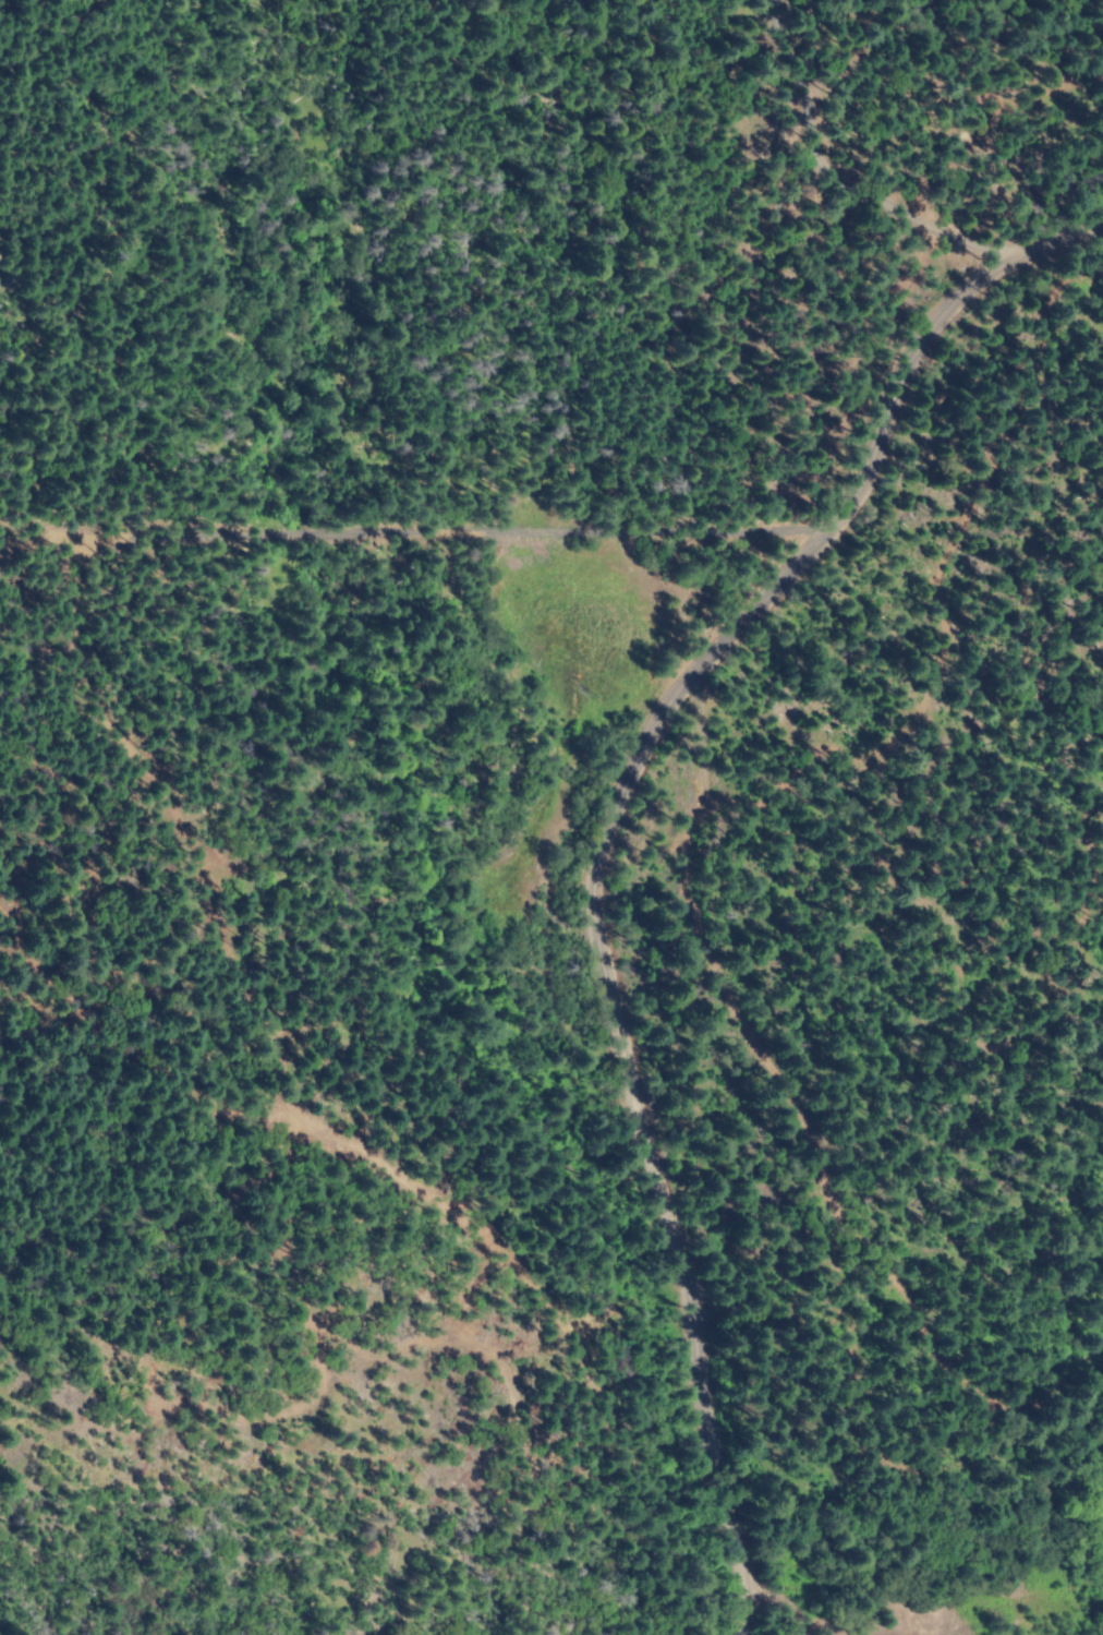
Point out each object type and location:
road: (1014, 133)
road: (857, 161)
road: (613, 832)

